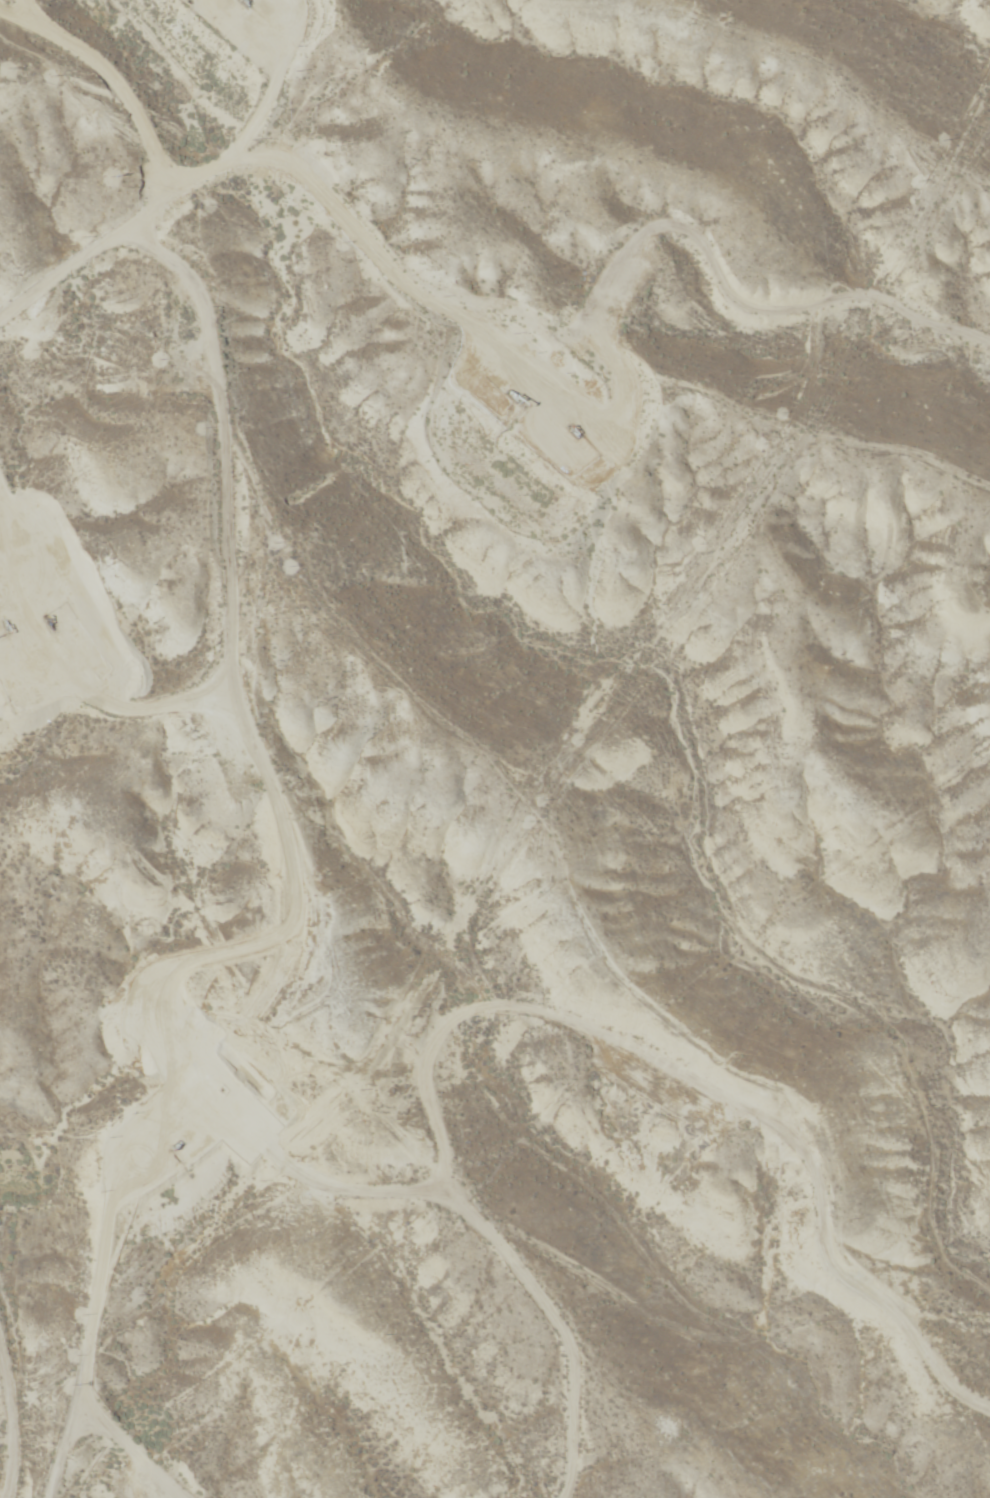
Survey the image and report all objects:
road: (474, 149)
road: (312, 579)
road: (692, 1031)
road: (310, 1105)
road: (747, 1319)
road: (69, 1496)
road: (83, 1496)

